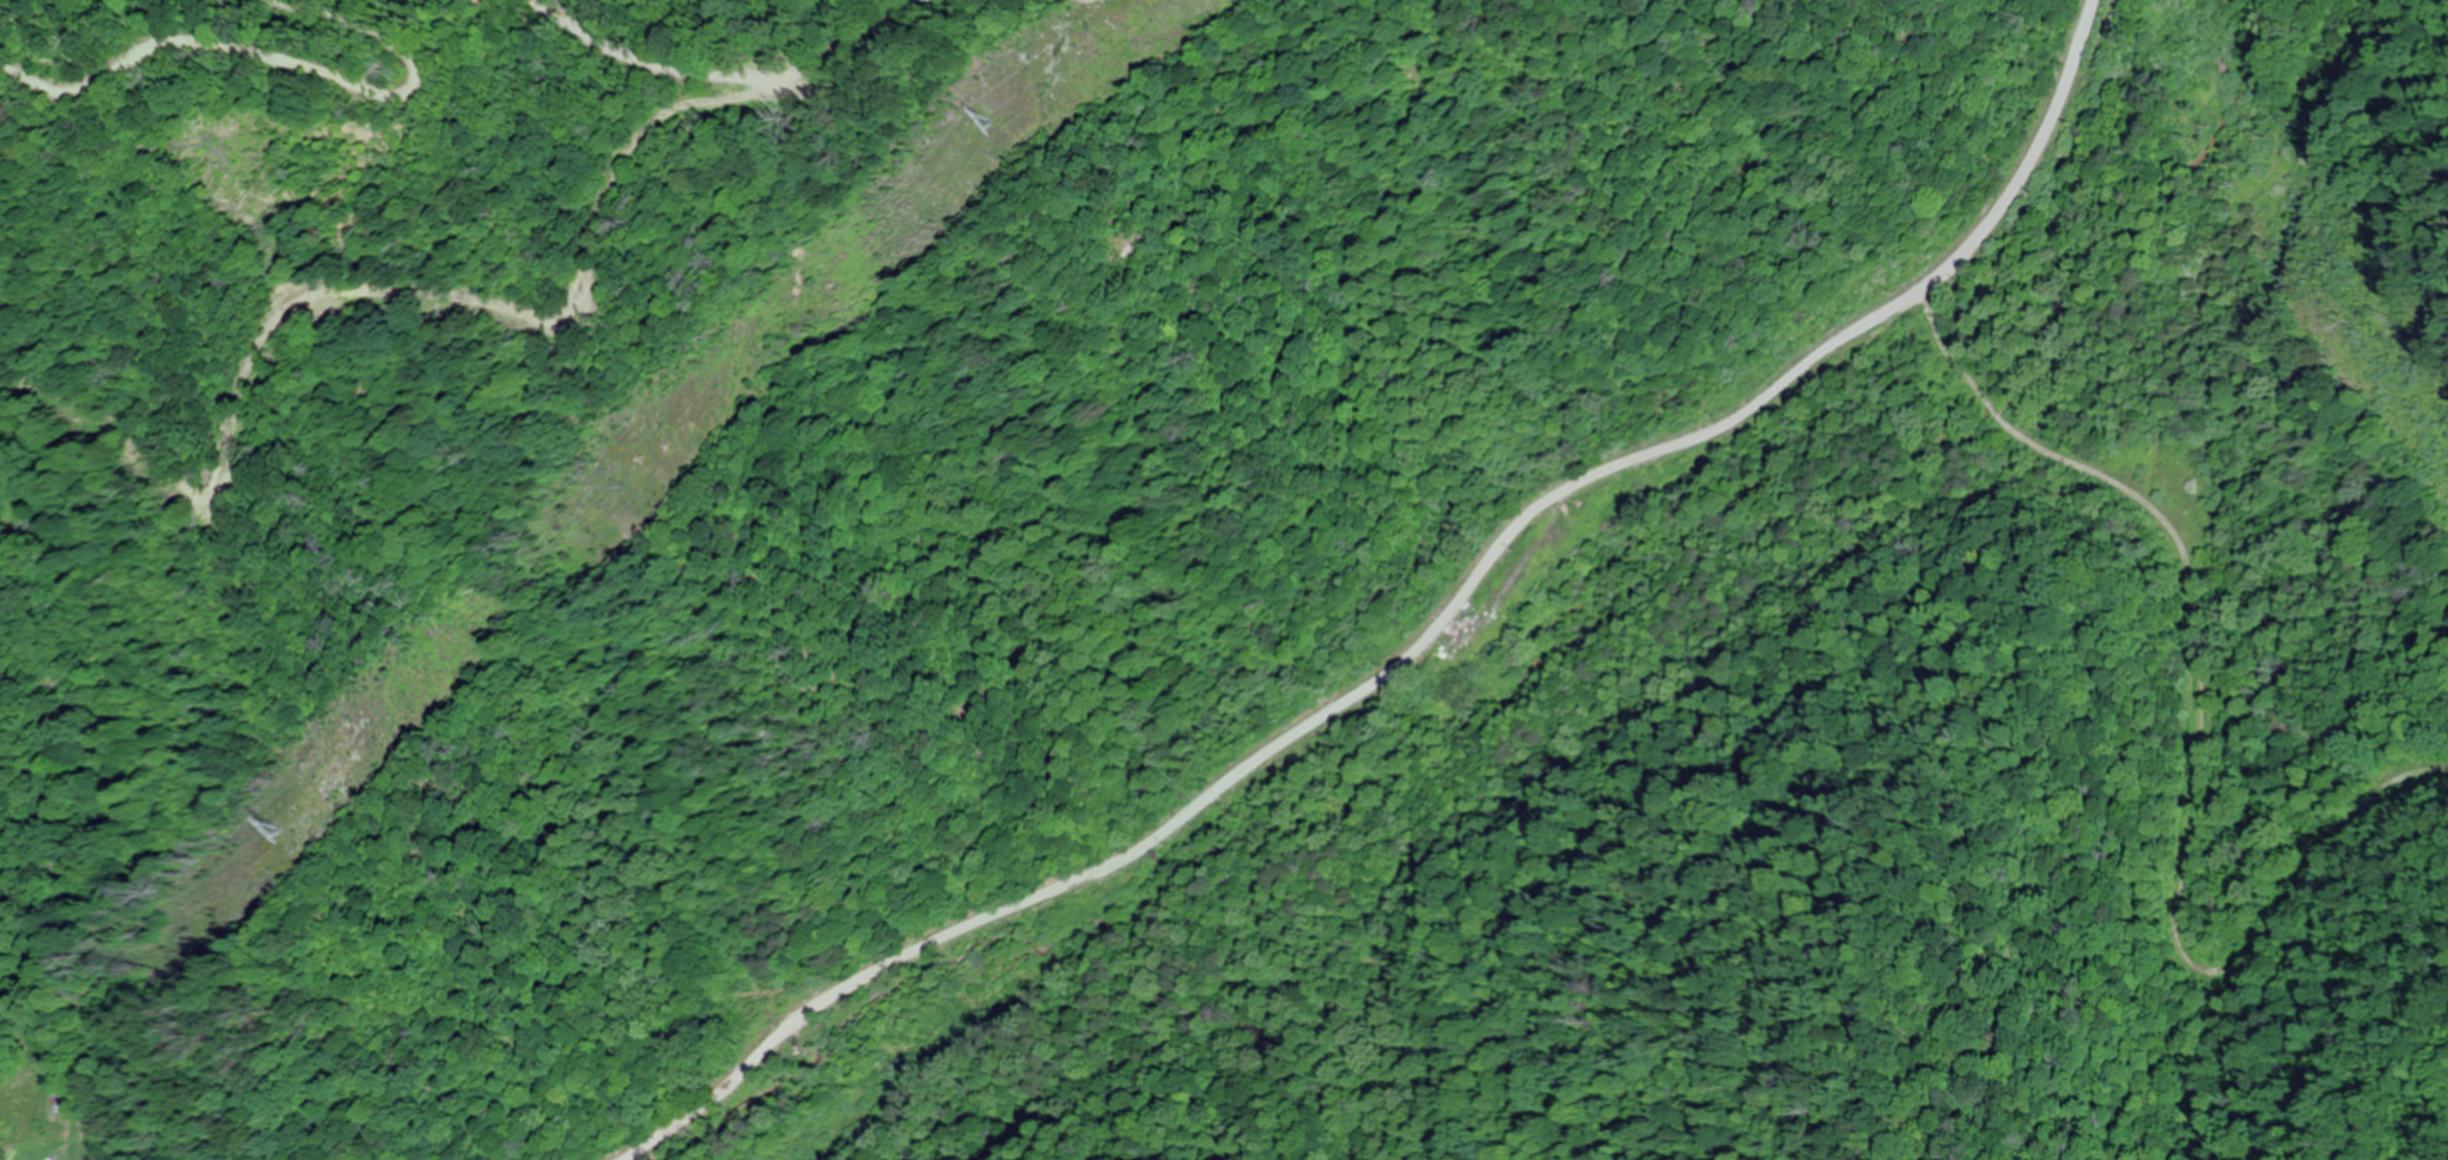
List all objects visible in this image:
road: (602, 42)
power tower: (963, 123)
road: (1417, 639)
power tower: (256, 823)
building: (48, 1100)

